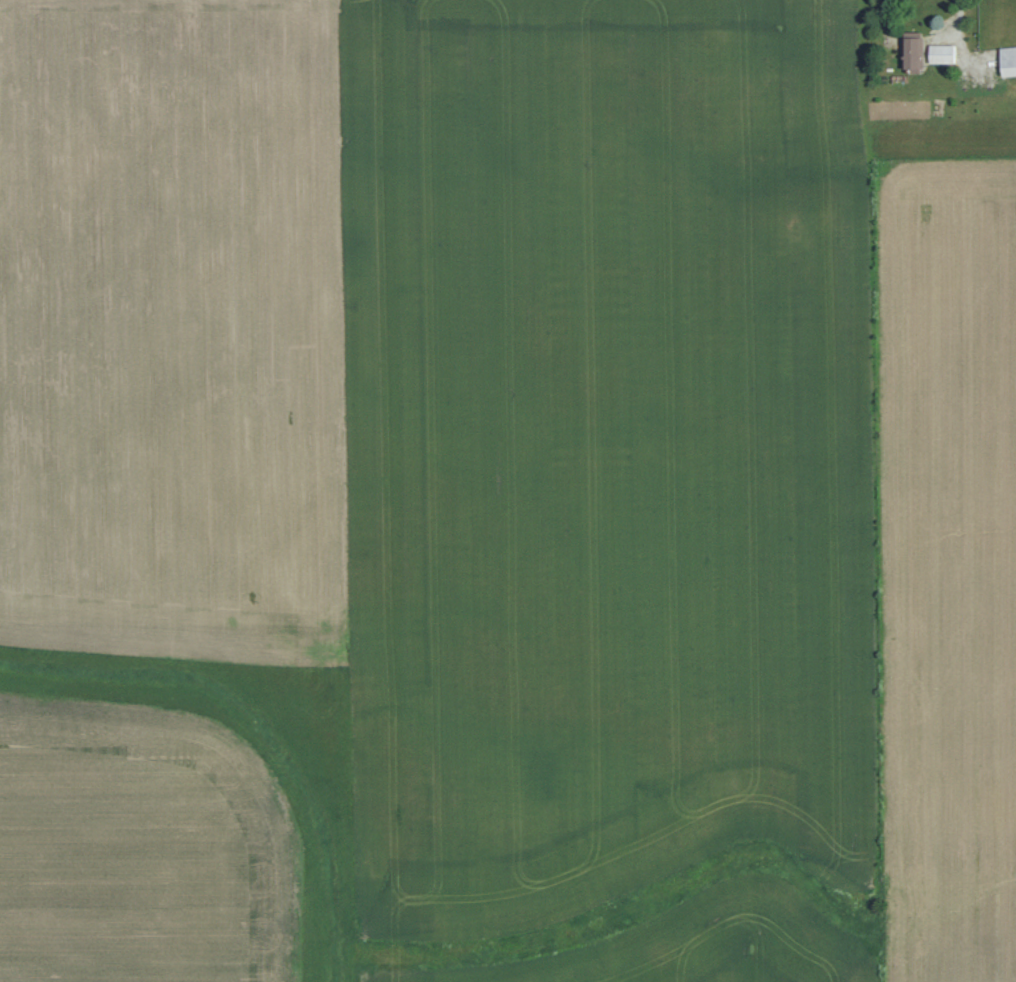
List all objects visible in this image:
building: (911, 50)
building: (940, 53)
building: (1007, 61)

